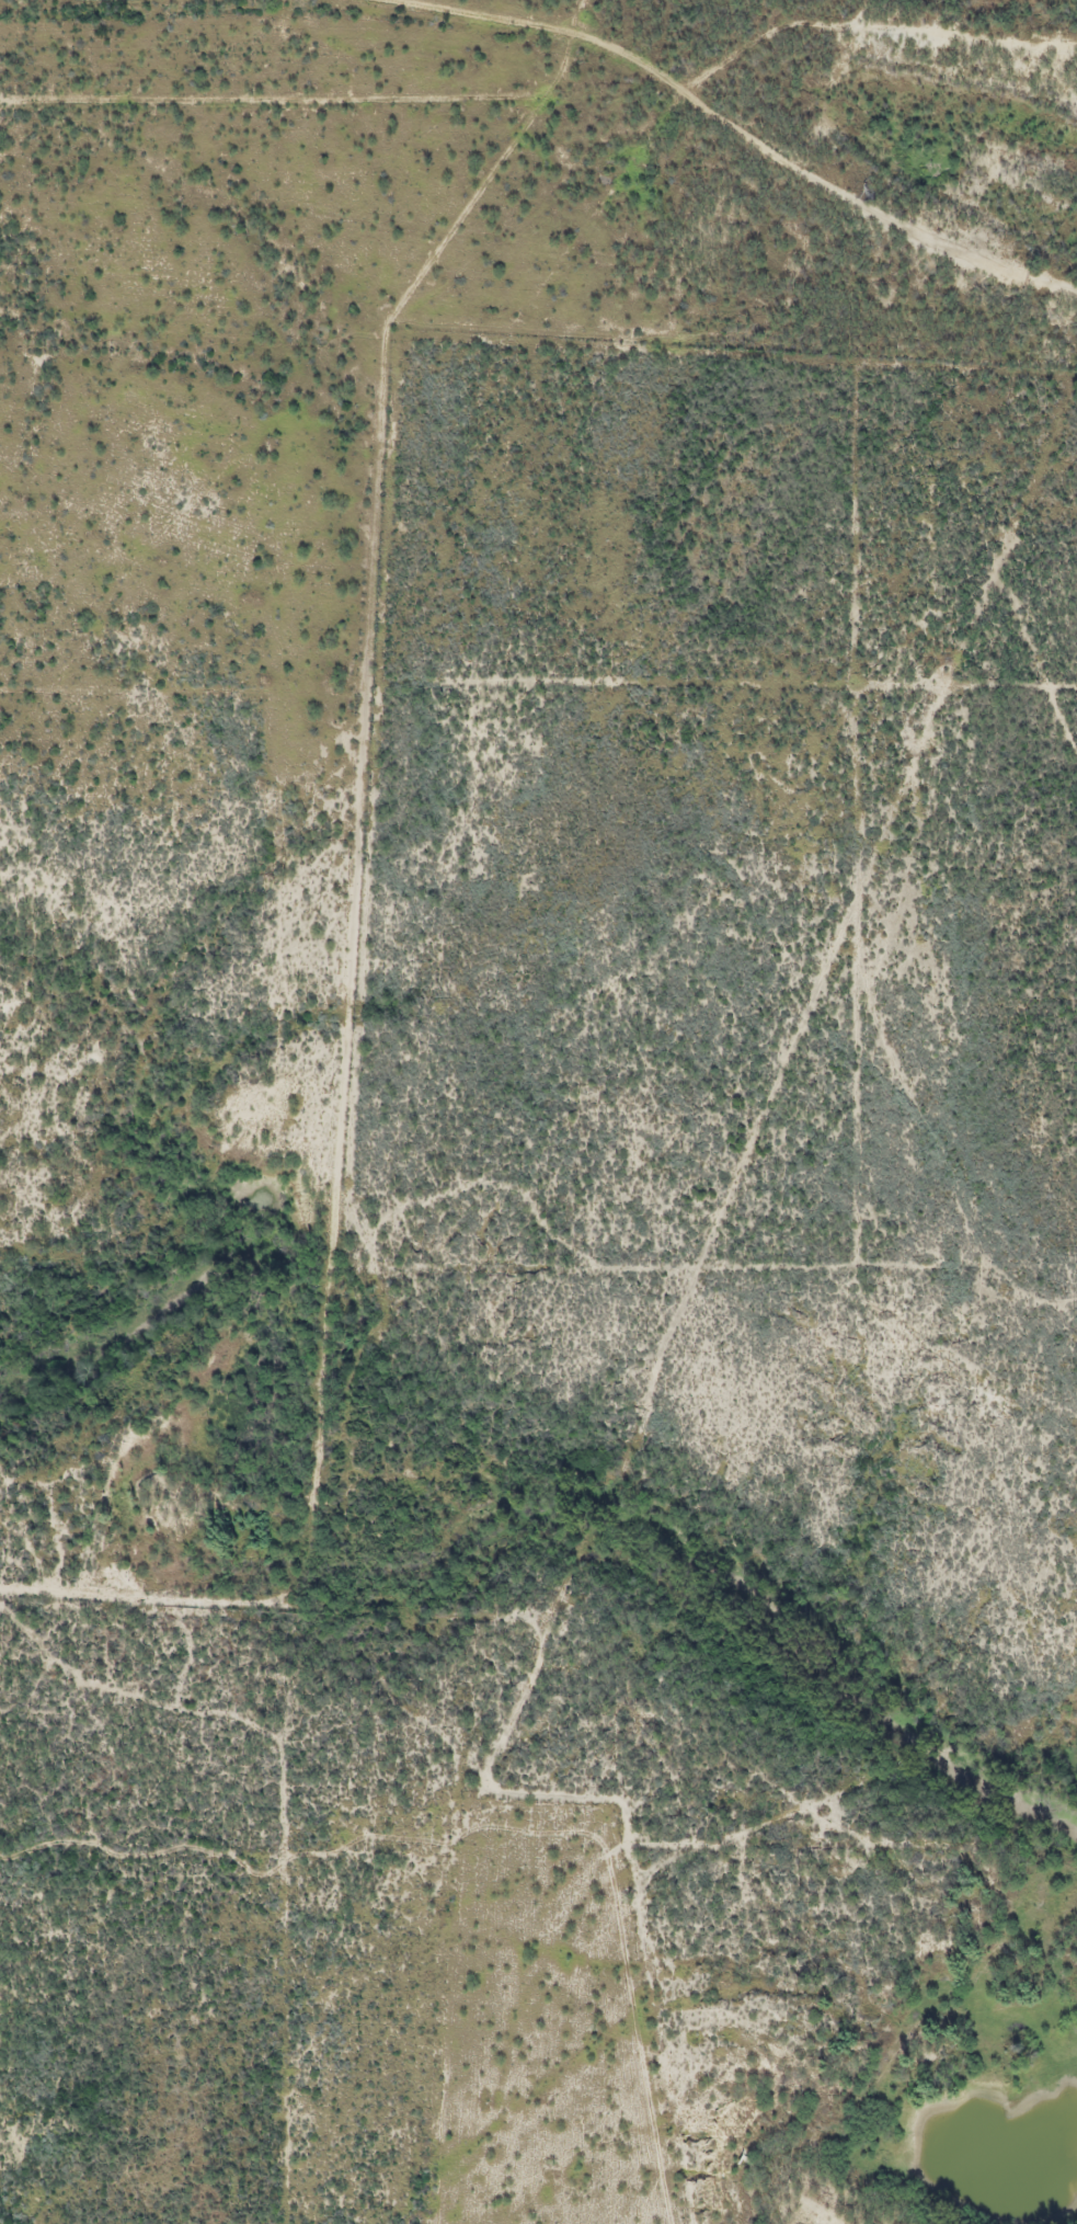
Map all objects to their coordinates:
road: (738, 127)

